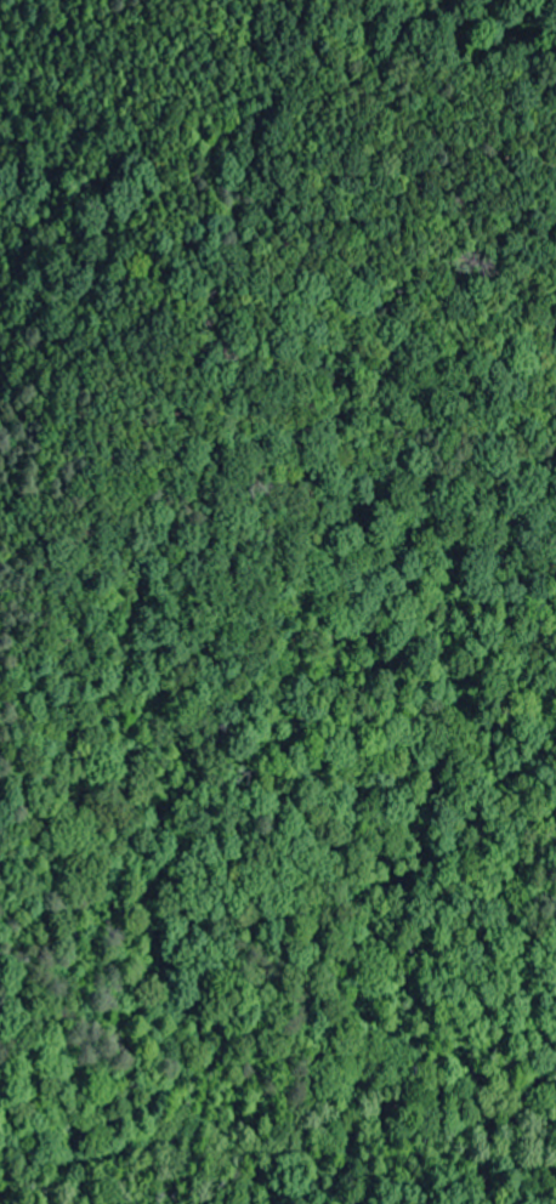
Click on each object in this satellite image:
road: (202, 316)

